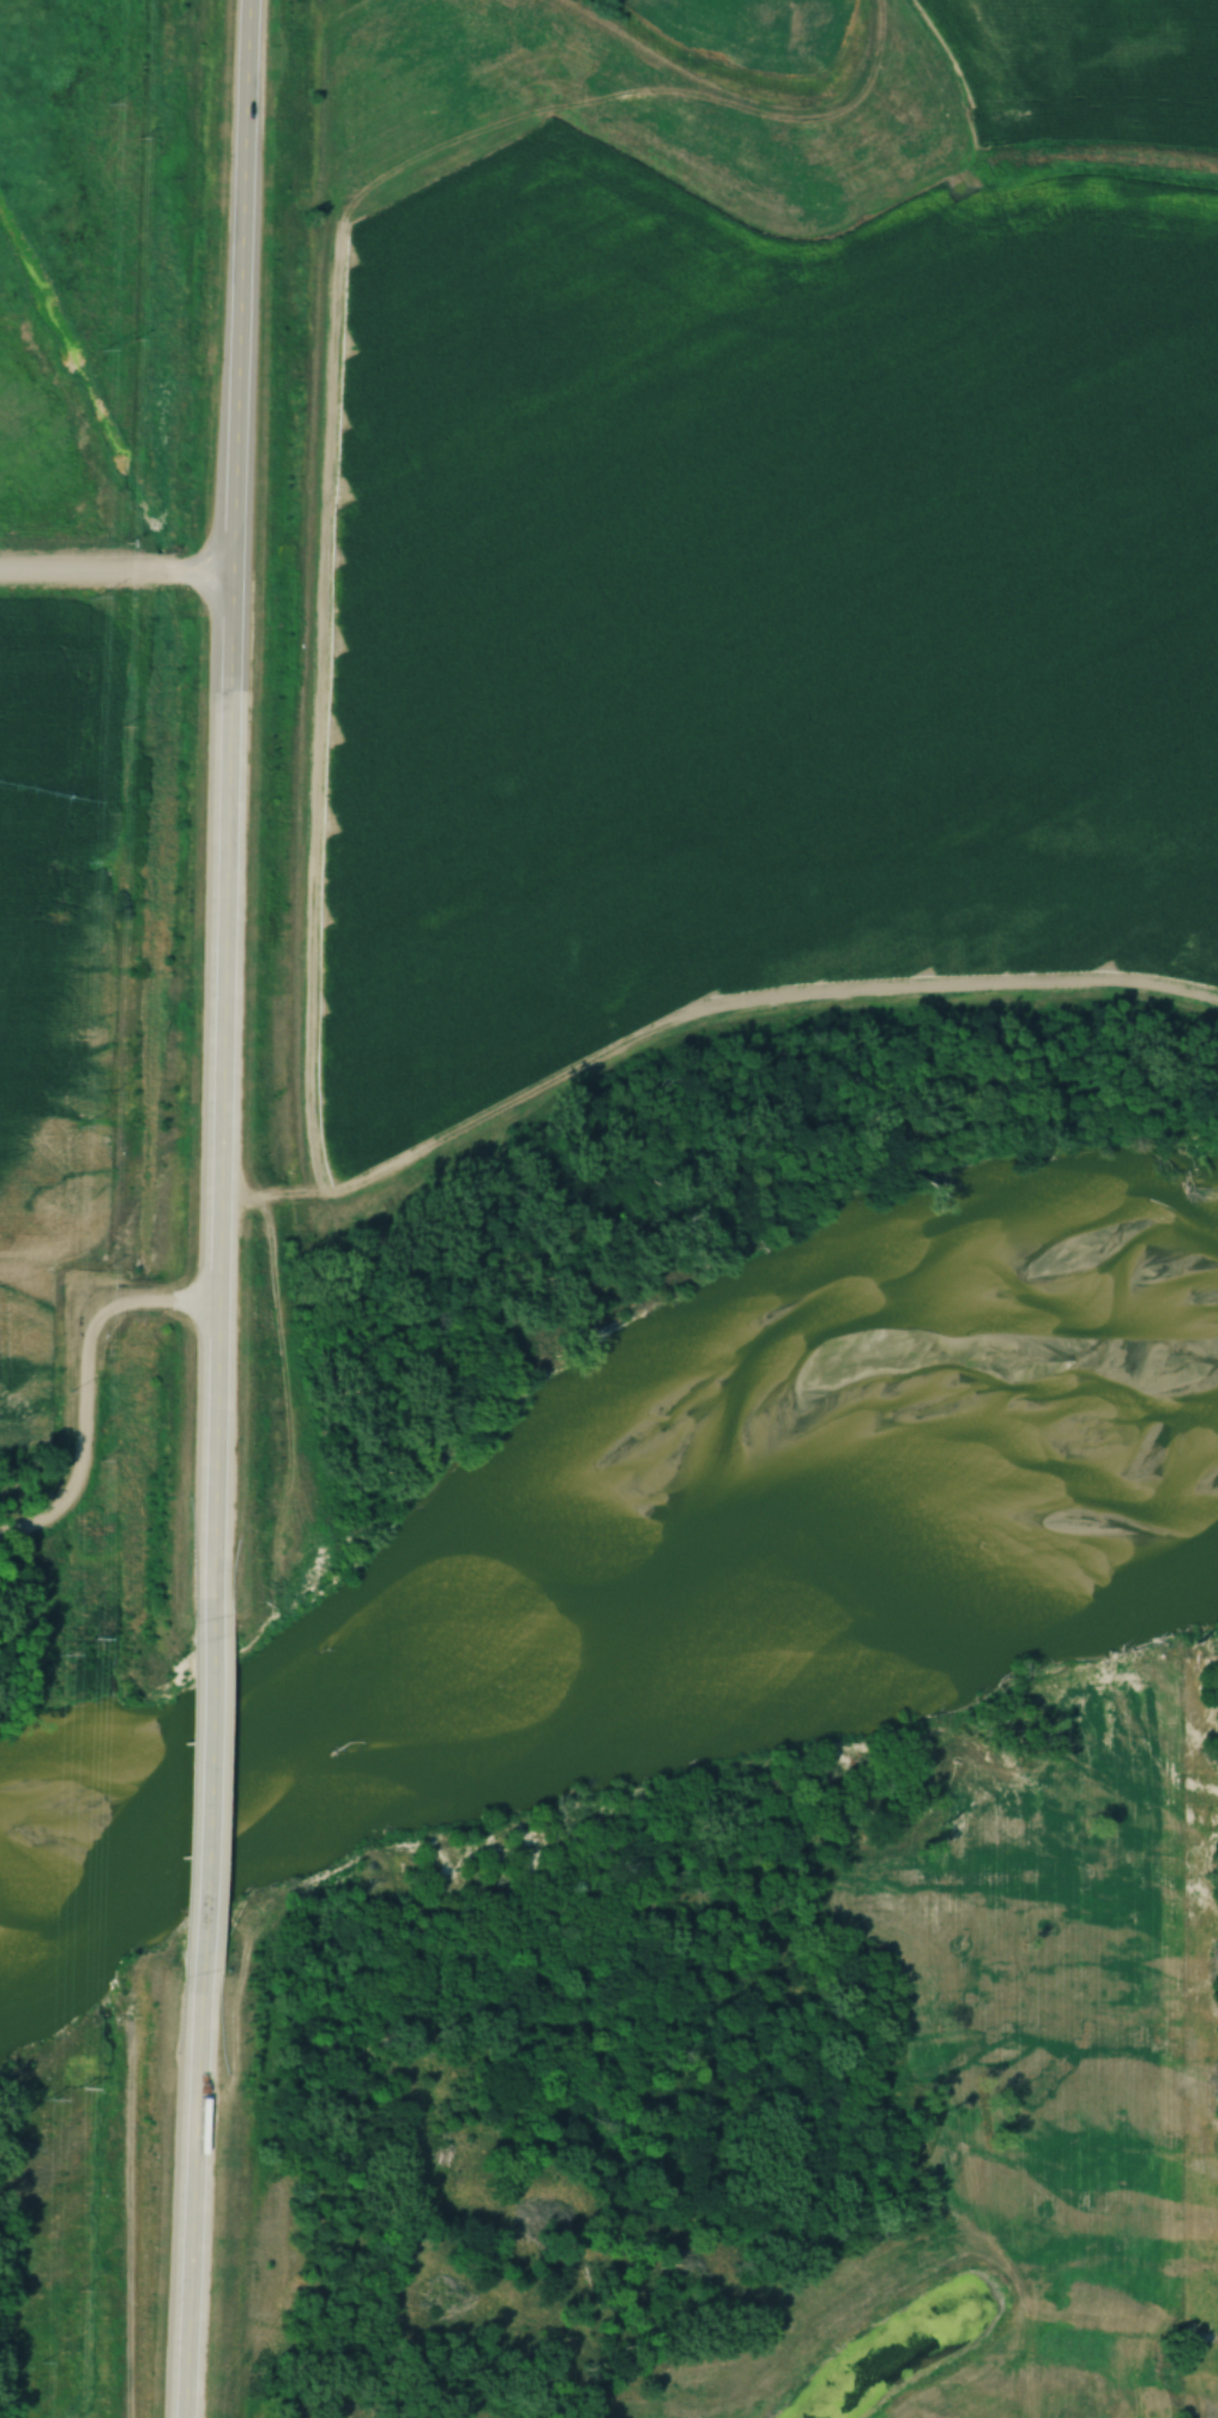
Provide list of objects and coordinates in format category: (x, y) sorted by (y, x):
road: (236, 288)
road: (114, 577)
road: (217, 1097)
road: (82, 1383)
park: (102, 1495)
river: (602, 1594)
road: (206, 1797)
road: (189, 2196)

